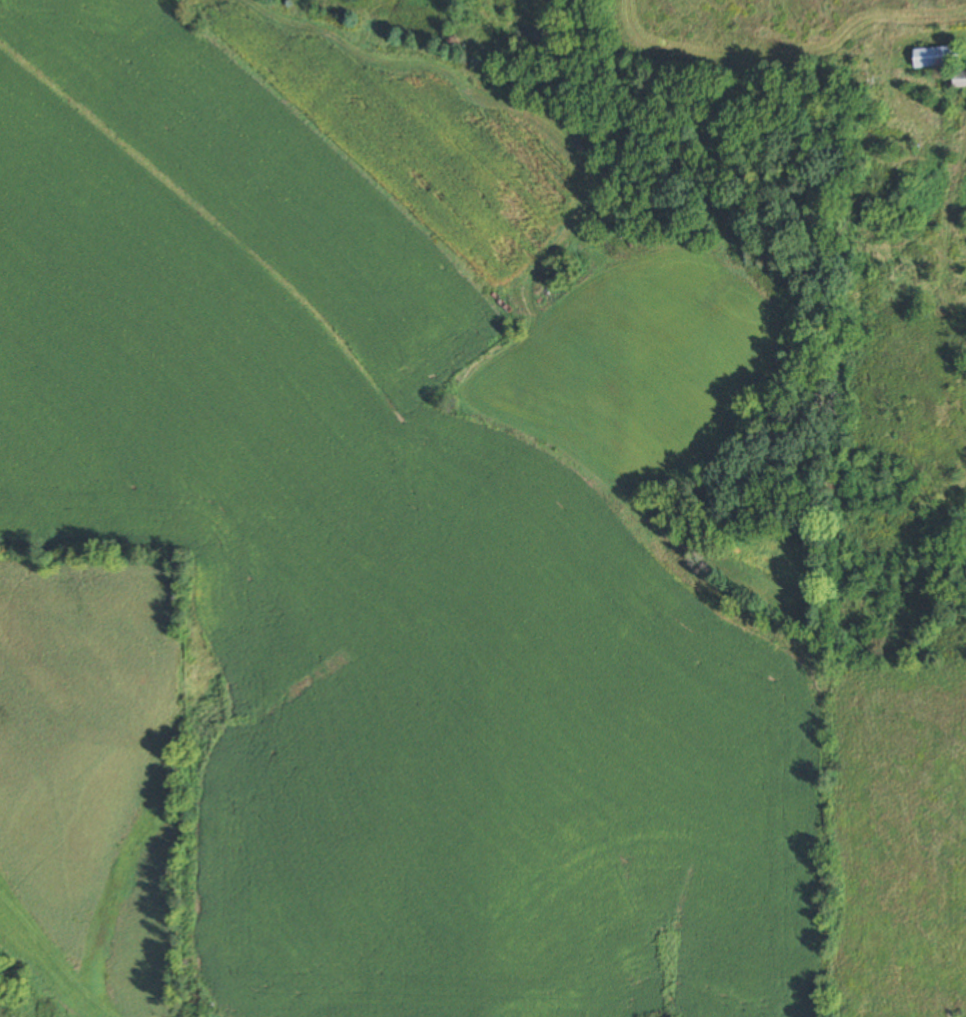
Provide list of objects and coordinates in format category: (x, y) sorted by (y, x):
building: (937, 56)
building: (961, 78)

